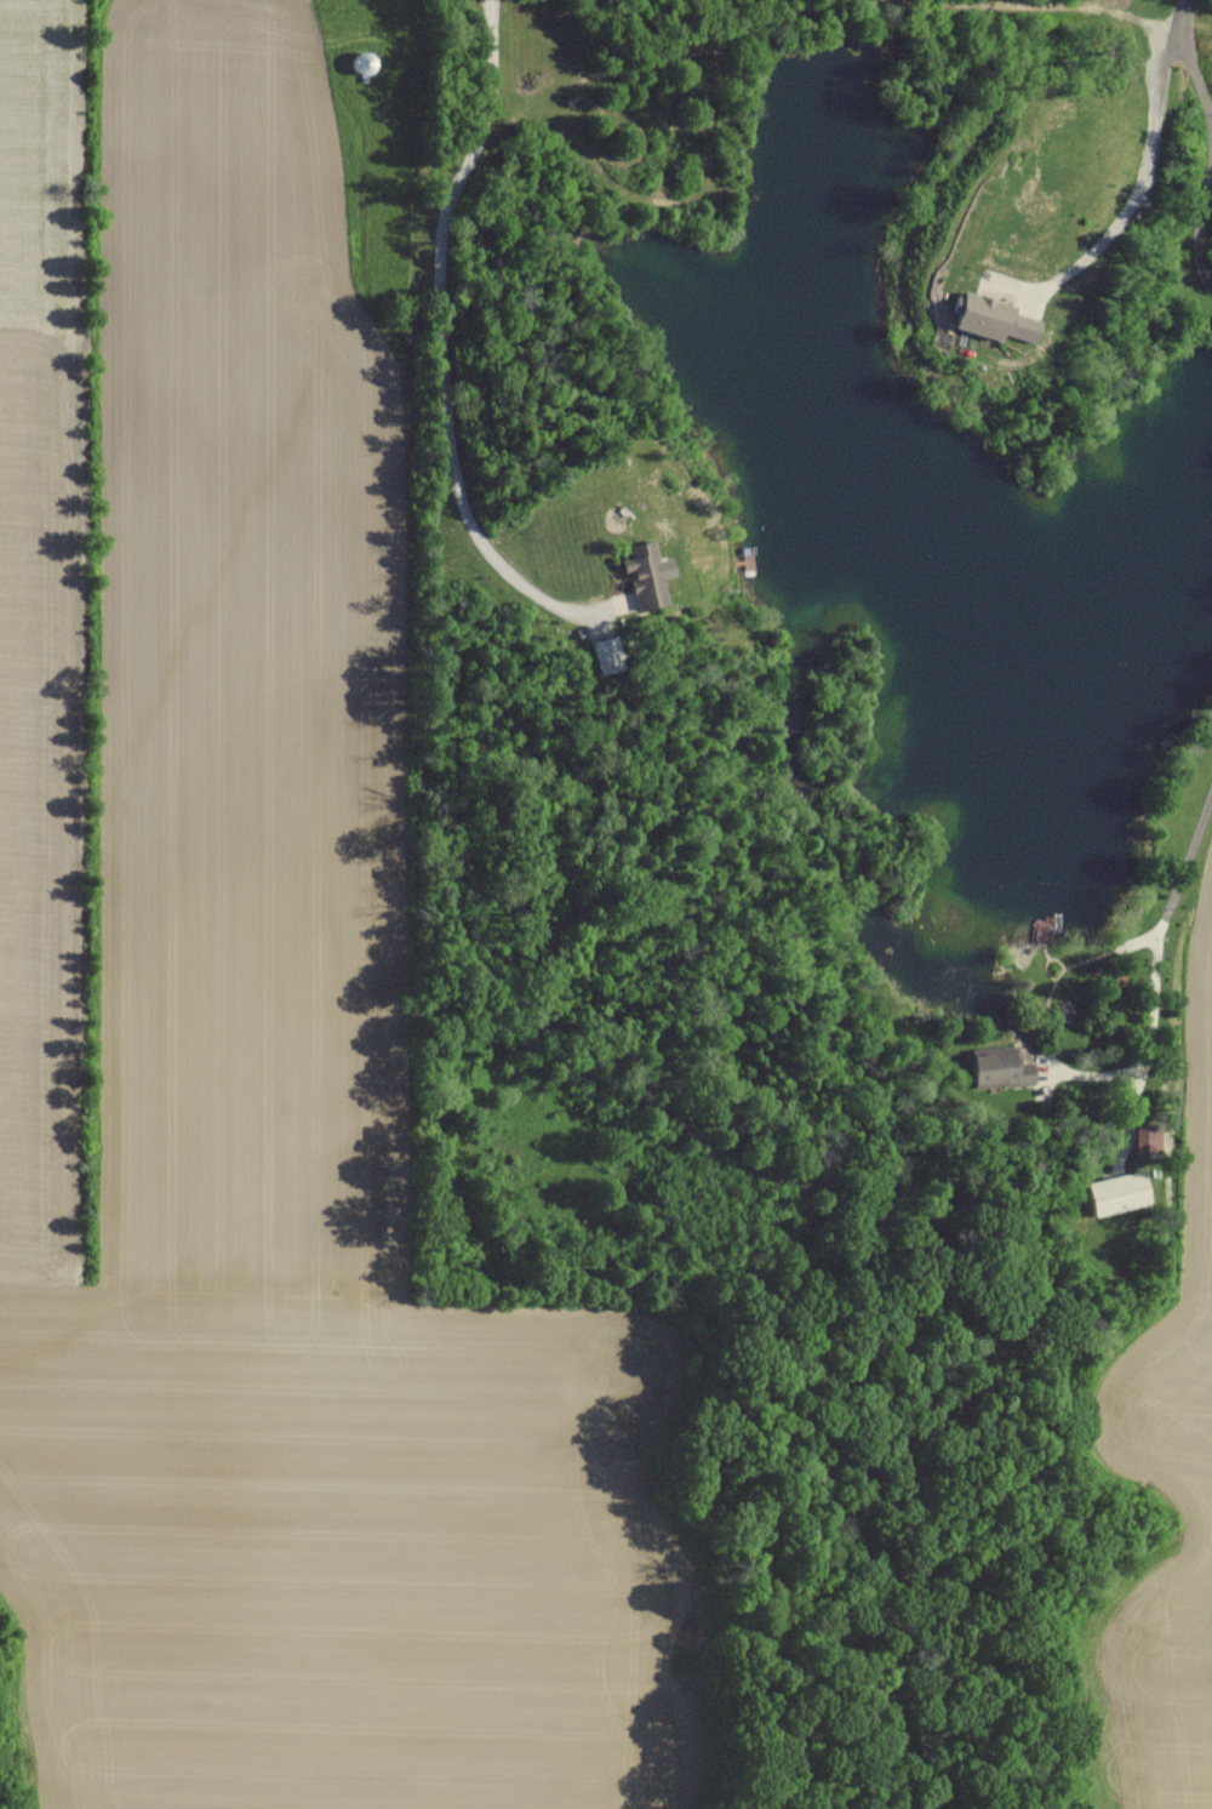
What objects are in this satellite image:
road: (1185, 55)
road: (1139, 187)
road: (1200, 233)
building: (1006, 319)
road: (442, 341)
building: (648, 573)
building: (608, 655)
road: (1159, 971)
building: (1002, 1066)
building: (1147, 1134)
building: (1117, 1191)

